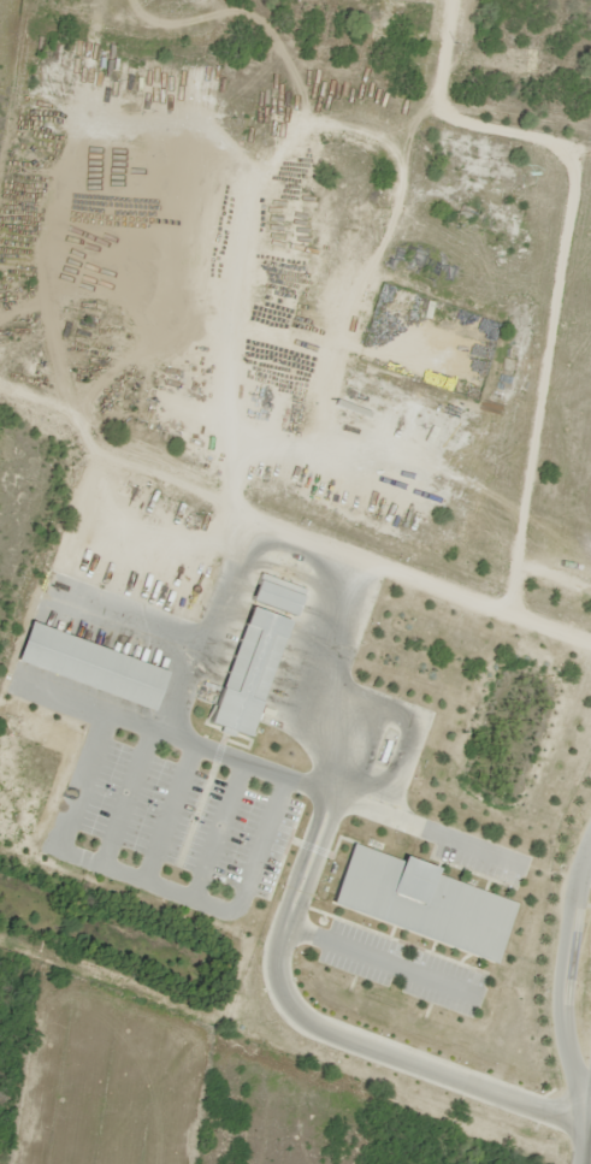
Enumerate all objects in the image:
road: (313, 543)
road: (124, 624)
building: (250, 672)
road: (319, 675)
road: (172, 733)
building: (382, 756)
road: (126, 794)
road: (170, 810)
road: (218, 828)
road: (146, 879)
building: (421, 903)
road: (271, 955)
road: (563, 970)
road: (587, 1139)

